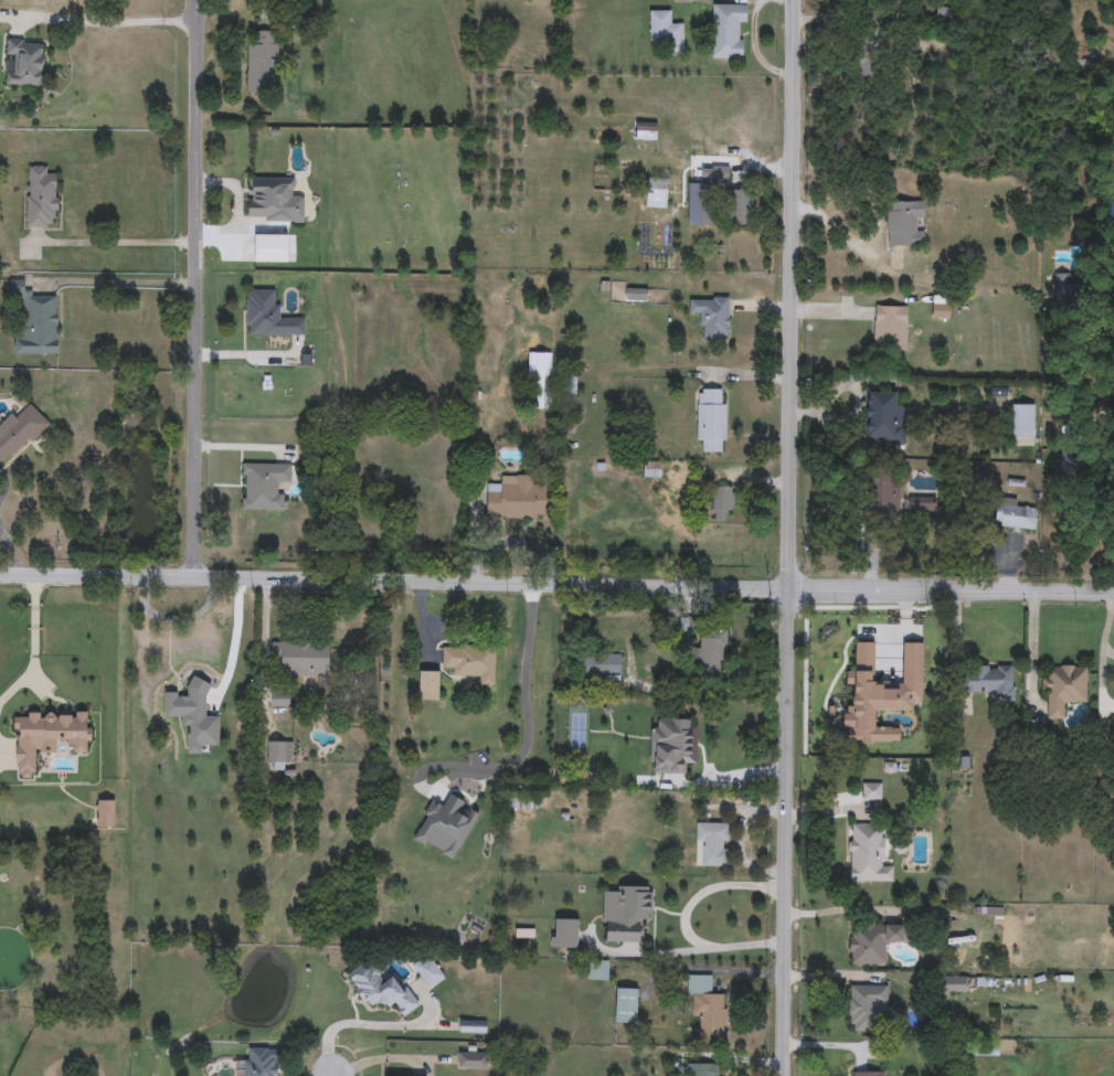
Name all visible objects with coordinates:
road: (109, 25)
building: (665, 30)
building: (728, 31)
road: (754, 50)
building: (25, 62)
building: (262, 62)
building: (864, 70)
building: (646, 131)
building: (594, 149)
building: (719, 174)
building: (656, 193)
building: (41, 198)
building: (273, 201)
building: (1110, 206)
building: (740, 207)
building: (904, 224)
road: (877, 231)
road: (120, 239)
road: (120, 283)
road: (193, 286)
building: (1068, 290)
road: (795, 292)
building: (940, 311)
building: (269, 316)
building: (711, 318)
building: (35, 321)
building: (890, 328)
building: (540, 379)
building: (567, 383)
building: (884, 419)
building: (711, 420)
building: (1022, 425)
building: (19, 432)
building: (1071, 461)
building: (264, 484)
building: (881, 494)
building: (516, 499)
building: (720, 503)
building: (921, 503)
building: (1014, 516)
road: (8, 553)
road: (395, 578)
road: (953, 588)
road: (194, 617)
road: (42, 638)
road: (1027, 649)
building: (185, 652)
building: (710, 652)
road: (141, 654)
building: (303, 658)
building: (470, 661)
building: (600, 668)
building: (984, 680)
road: (715, 688)
building: (1062, 690)
building: (279, 700)
building: (47, 737)
building: (523, 749)
building: (597, 749)
building: (279, 754)
building: (168, 755)
road: (517, 757)
building: (871, 792)
road: (788, 831)
building: (711, 844)
building: (867, 854)
building: (625, 913)
road: (693, 917)
building: (563, 934)
building: (871, 941)
building: (596, 970)
road: (729, 972)
building: (951, 984)
building: (380, 989)
building: (625, 1005)
building: (866, 1005)
building: (704, 1009)
building: (473, 1026)
building: (473, 1061)
building: (258, 1063)
building: (702, 1069)
building: (869, 1074)

